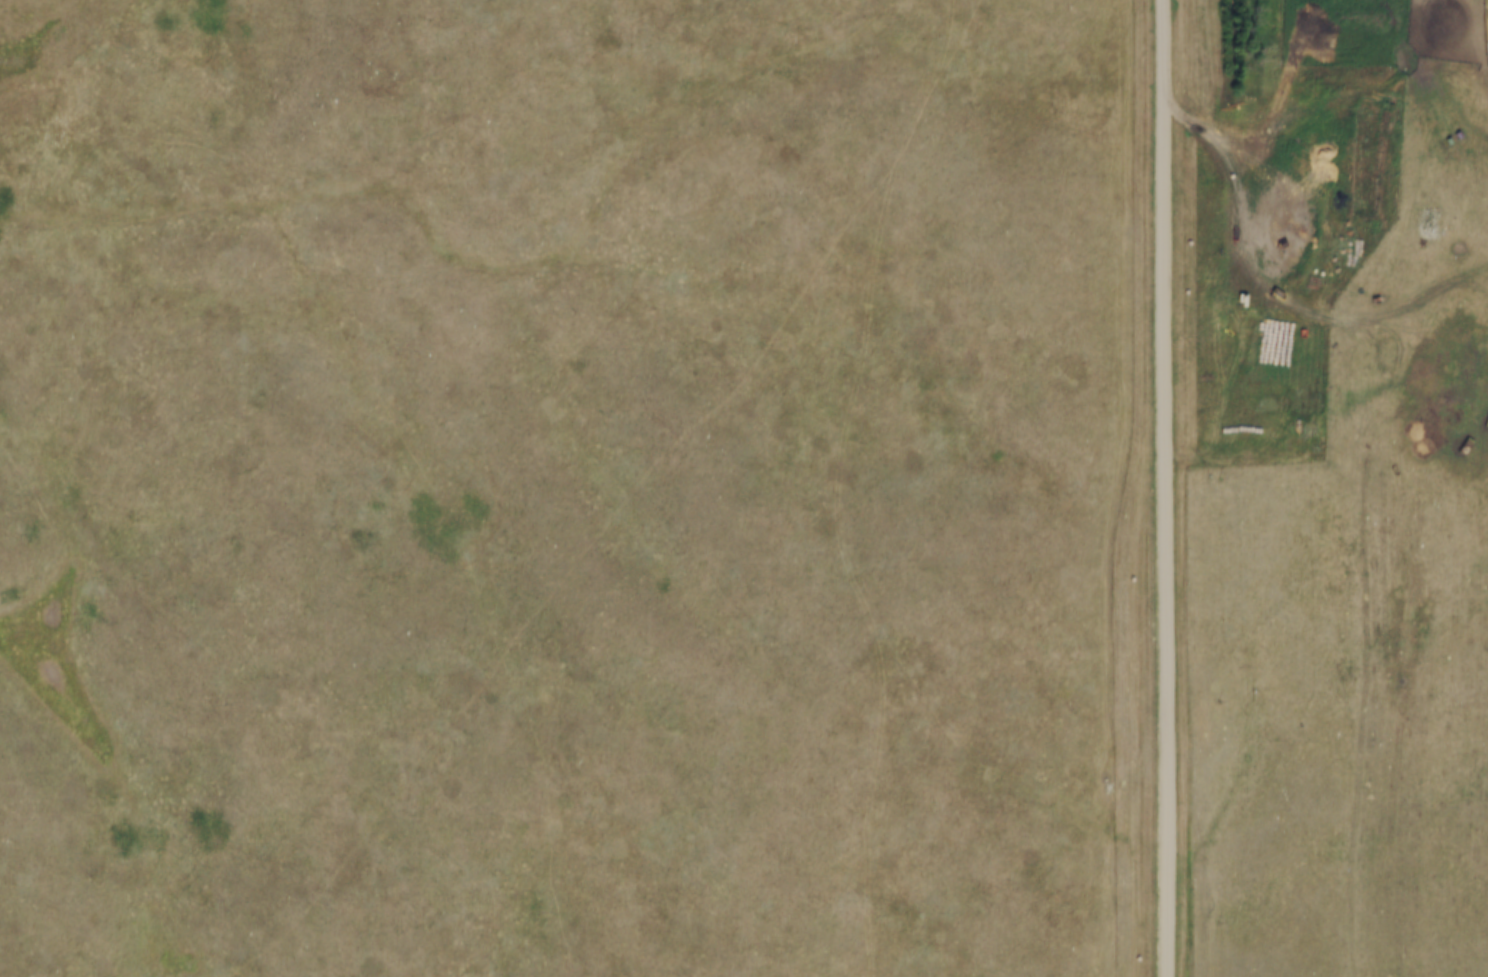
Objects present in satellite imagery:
road: (1269, 107)
road: (1167, 488)

